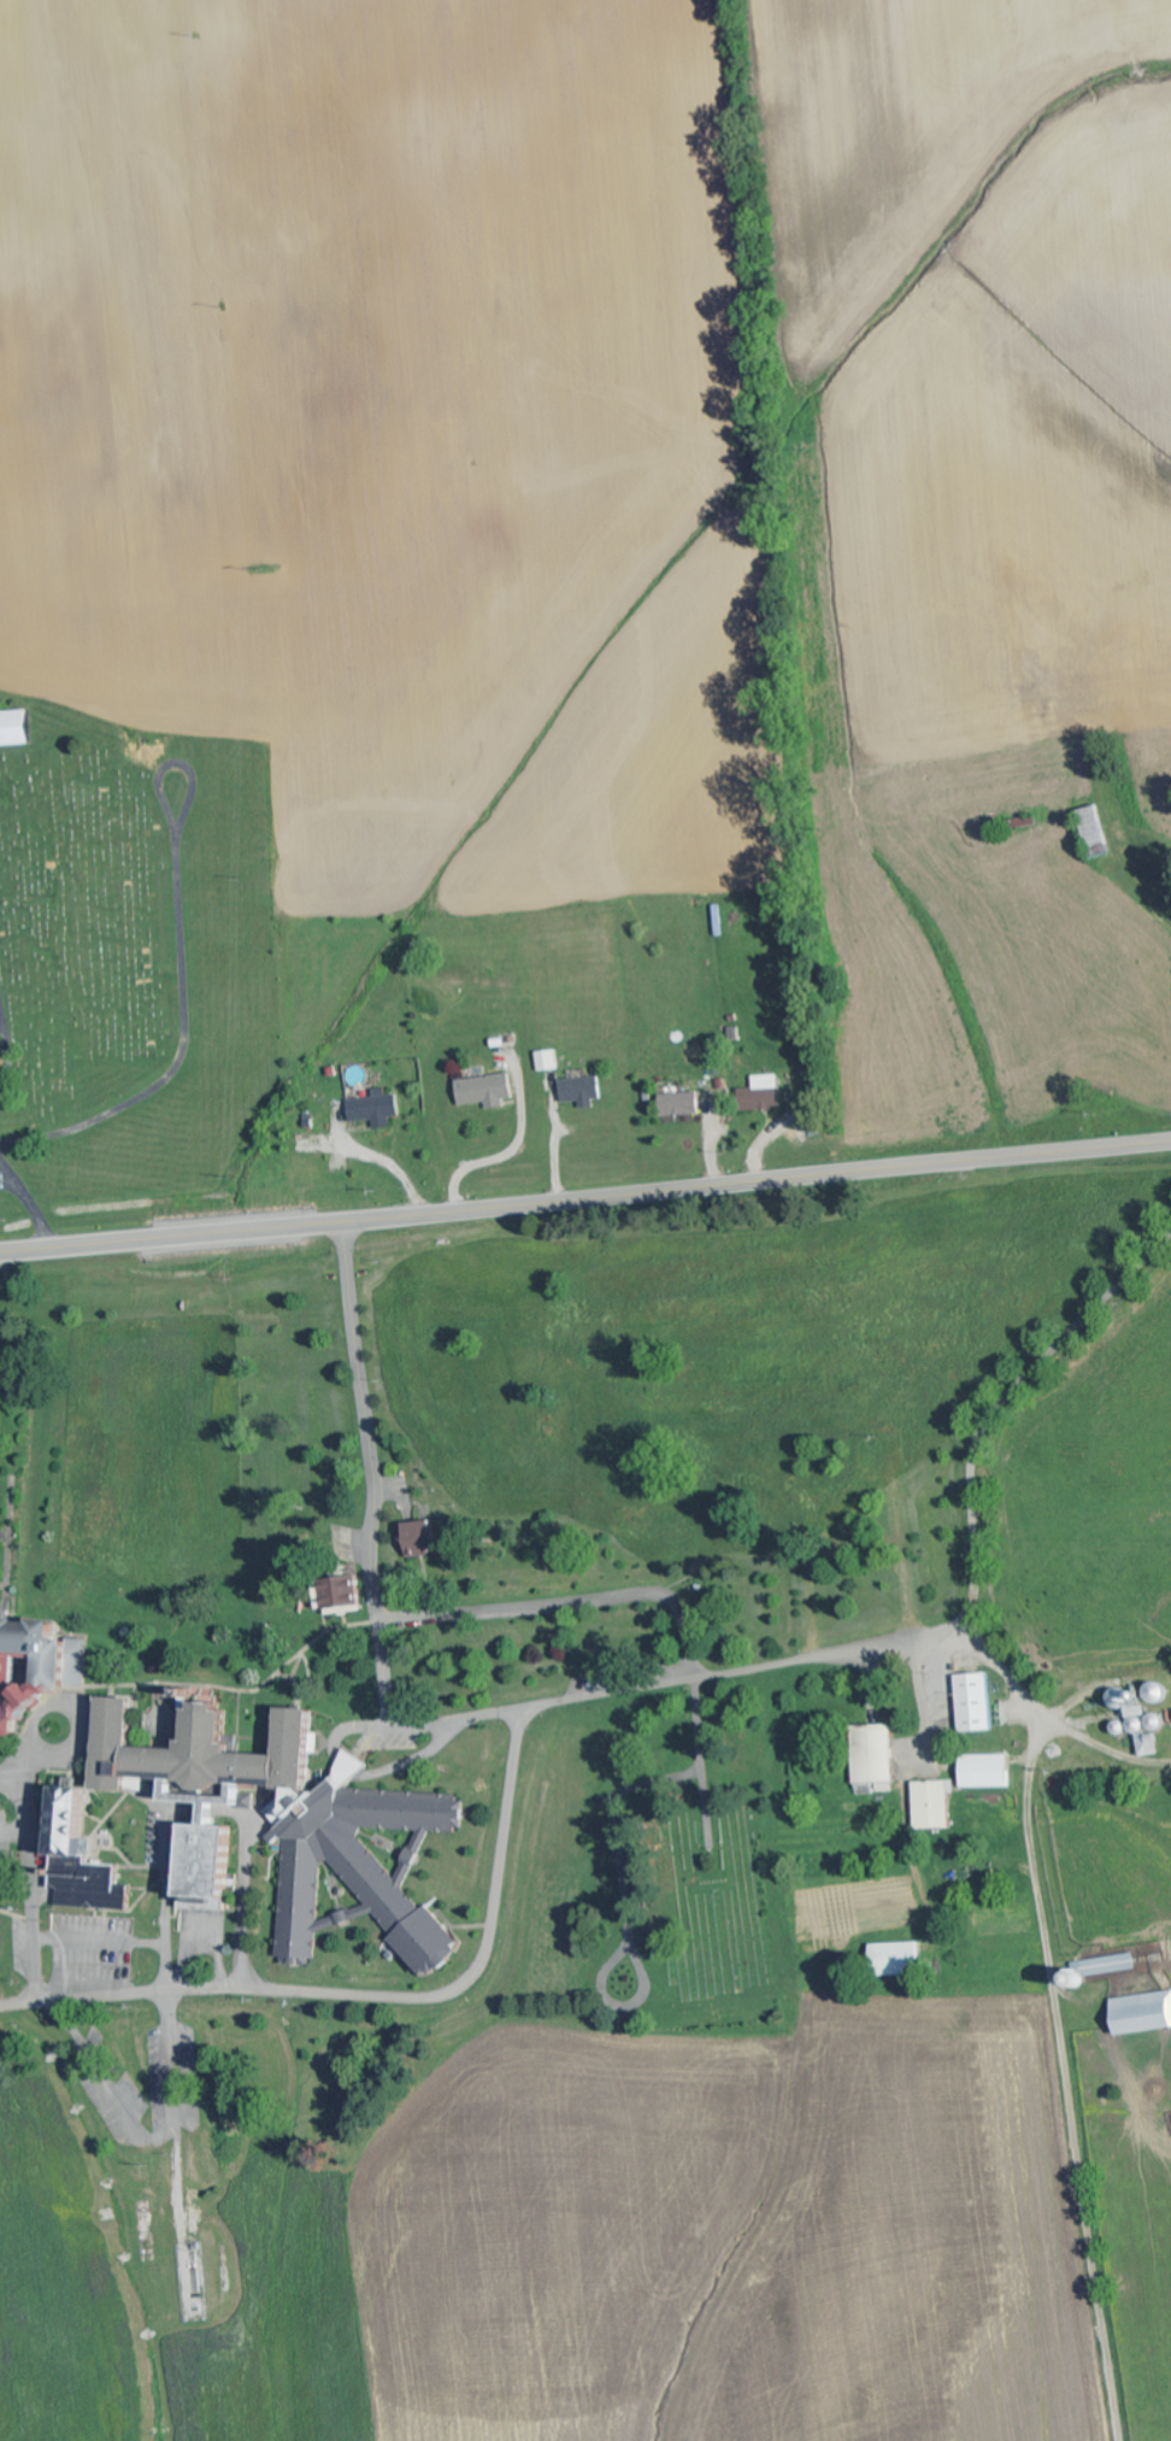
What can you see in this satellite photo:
park: (134, 953)
building: (551, 1060)
building: (0, 1068)
building: (487, 1091)
building: (583, 1091)
building: (764, 1095)
building: (681, 1104)
building: (376, 1109)
road: (585, 1199)
road: (360, 1422)
building: (422, 1538)
building: (342, 1596)
road: (566, 1600)
building: (36, 1668)
road: (610, 1692)
building: (1120, 1698)
building: (977, 1703)
building: (1147, 1729)
building: (875, 1754)
building: (988, 1772)
building: (935, 1803)
building: (306, 1831)
building: (80, 1860)
road: (29, 1884)
park: (681, 1899)
road: (167, 1944)
building: (898, 1960)
building: (1110, 1965)
building: (1142, 2014)

